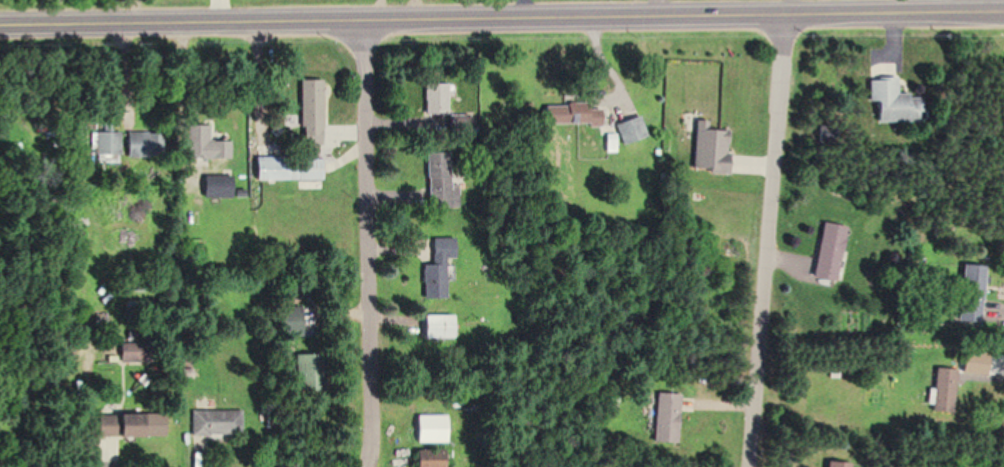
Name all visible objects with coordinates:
road: (136, 10)
road: (501, 16)
building: (436, 98)
building: (891, 101)
building: (310, 112)
building: (571, 113)
building: (203, 143)
building: (710, 148)
building: (289, 168)
building: (439, 181)
building: (215, 186)
road: (768, 240)
road: (366, 242)
building: (828, 252)
building: (434, 273)
building: (970, 293)
building: (288, 321)
building: (436, 326)
building: (58, 342)
building: (307, 372)
building: (942, 389)
building: (665, 417)
building: (214, 422)
building: (116, 425)
building: (429, 428)
building: (428, 458)
building: (835, 464)

